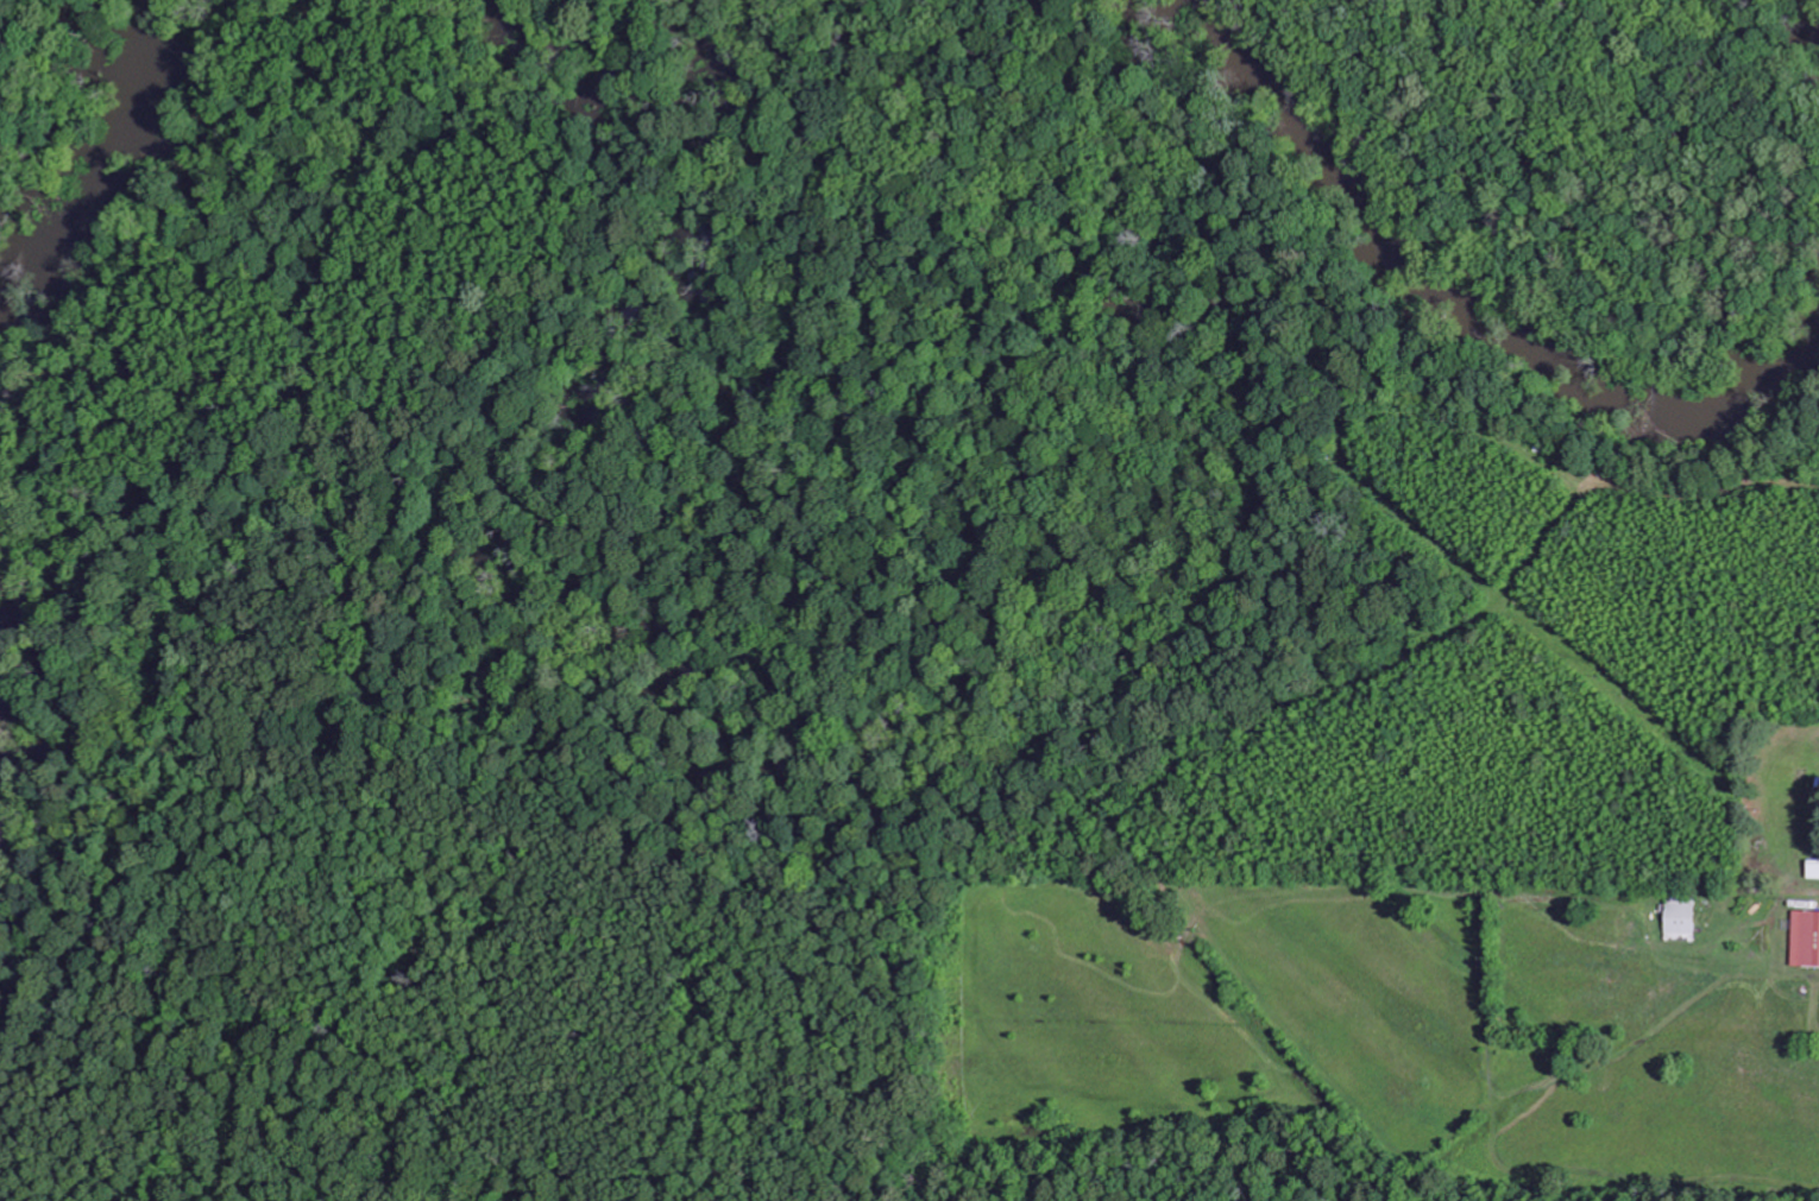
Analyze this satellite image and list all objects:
river: (1813, 10)
river: (113, 179)
river: (1474, 298)
river: (2, 741)
building: (1812, 870)
building: (1681, 918)
building: (1805, 938)

